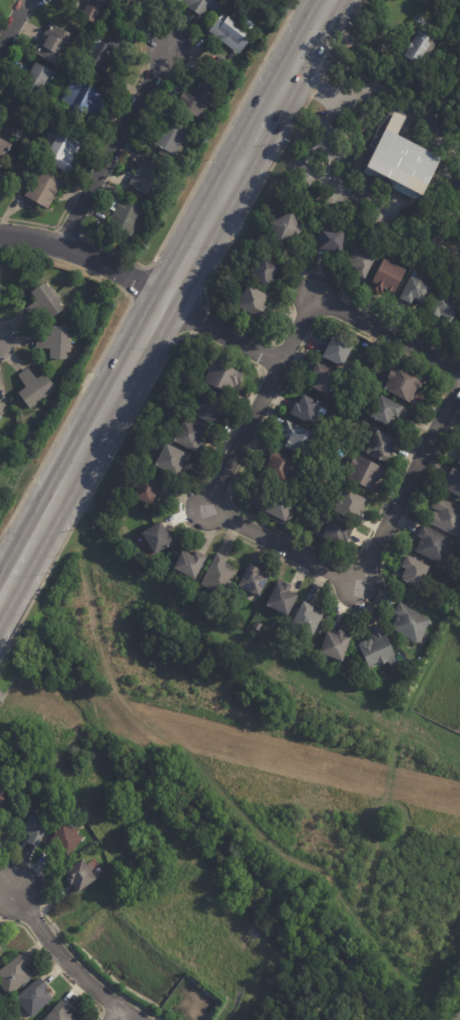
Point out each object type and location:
building: (147, 2)
building: (201, 5)
building: (91, 10)
road: (13, 23)
building: (233, 30)
building: (51, 43)
building: (416, 48)
building: (102, 57)
building: (417, 73)
building: (37, 81)
road: (323, 92)
building: (198, 97)
building: (84, 98)
building: (13, 115)
building: (170, 136)
road: (324, 142)
road: (113, 144)
building: (3, 150)
building: (58, 150)
road: (90, 162)
building: (402, 163)
road: (205, 165)
building: (0, 166)
building: (146, 178)
building: (457, 183)
building: (43, 190)
building: (154, 213)
building: (123, 215)
building: (285, 228)
road: (68, 231)
building: (331, 241)
road: (85, 254)
building: (360, 262)
building: (264, 272)
building: (387, 278)
road: (137, 281)
building: (415, 291)
road: (164, 294)
building: (44, 303)
building: (253, 303)
building: (445, 308)
road: (198, 319)
building: (459, 326)
road: (221, 330)
road: (255, 332)
road: (386, 334)
building: (55, 343)
building: (337, 353)
road: (263, 354)
road: (99, 357)
building: (222, 378)
road: (271, 378)
building: (323, 380)
building: (402, 385)
road: (451, 387)
road: (441, 388)
building: (34, 389)
building: (52, 405)
building: (1, 410)
building: (306, 411)
building: (208, 412)
building: (385, 412)
building: (46, 416)
building: (28, 438)
building: (189, 438)
building: (298, 441)
road: (223, 444)
building: (380, 448)
building: (458, 460)
building: (170, 461)
building: (280, 466)
building: (364, 474)
road: (14, 476)
building: (453, 483)
building: (146, 491)
building: (351, 507)
building: (279, 508)
building: (445, 518)
building: (336, 533)
building: (155, 539)
road: (79, 544)
road: (277, 544)
building: (433, 547)
building: (185, 562)
building: (413, 573)
building: (213, 574)
building: (251, 579)
building: (276, 596)
building: (302, 617)
building: (409, 624)
building: (257, 627)
building: (334, 647)
building: (377, 649)
road: (254, 657)
road: (427, 666)
road: (58, 693)
road: (366, 695)
road: (0, 696)
road: (396, 718)
road: (438, 729)
road: (182, 749)
building: (1, 794)
road: (379, 824)
building: (35, 829)
building: (65, 838)
building: (79, 876)
road: (80, 912)
road: (66, 943)
building: (0, 948)
building: (0, 950)
road: (65, 962)
road: (53, 965)
building: (14, 975)
road: (408, 982)
building: (34, 997)
building: (60, 1012)
road: (133, 1012)
road: (112, 1013)
road: (105, 1015)

